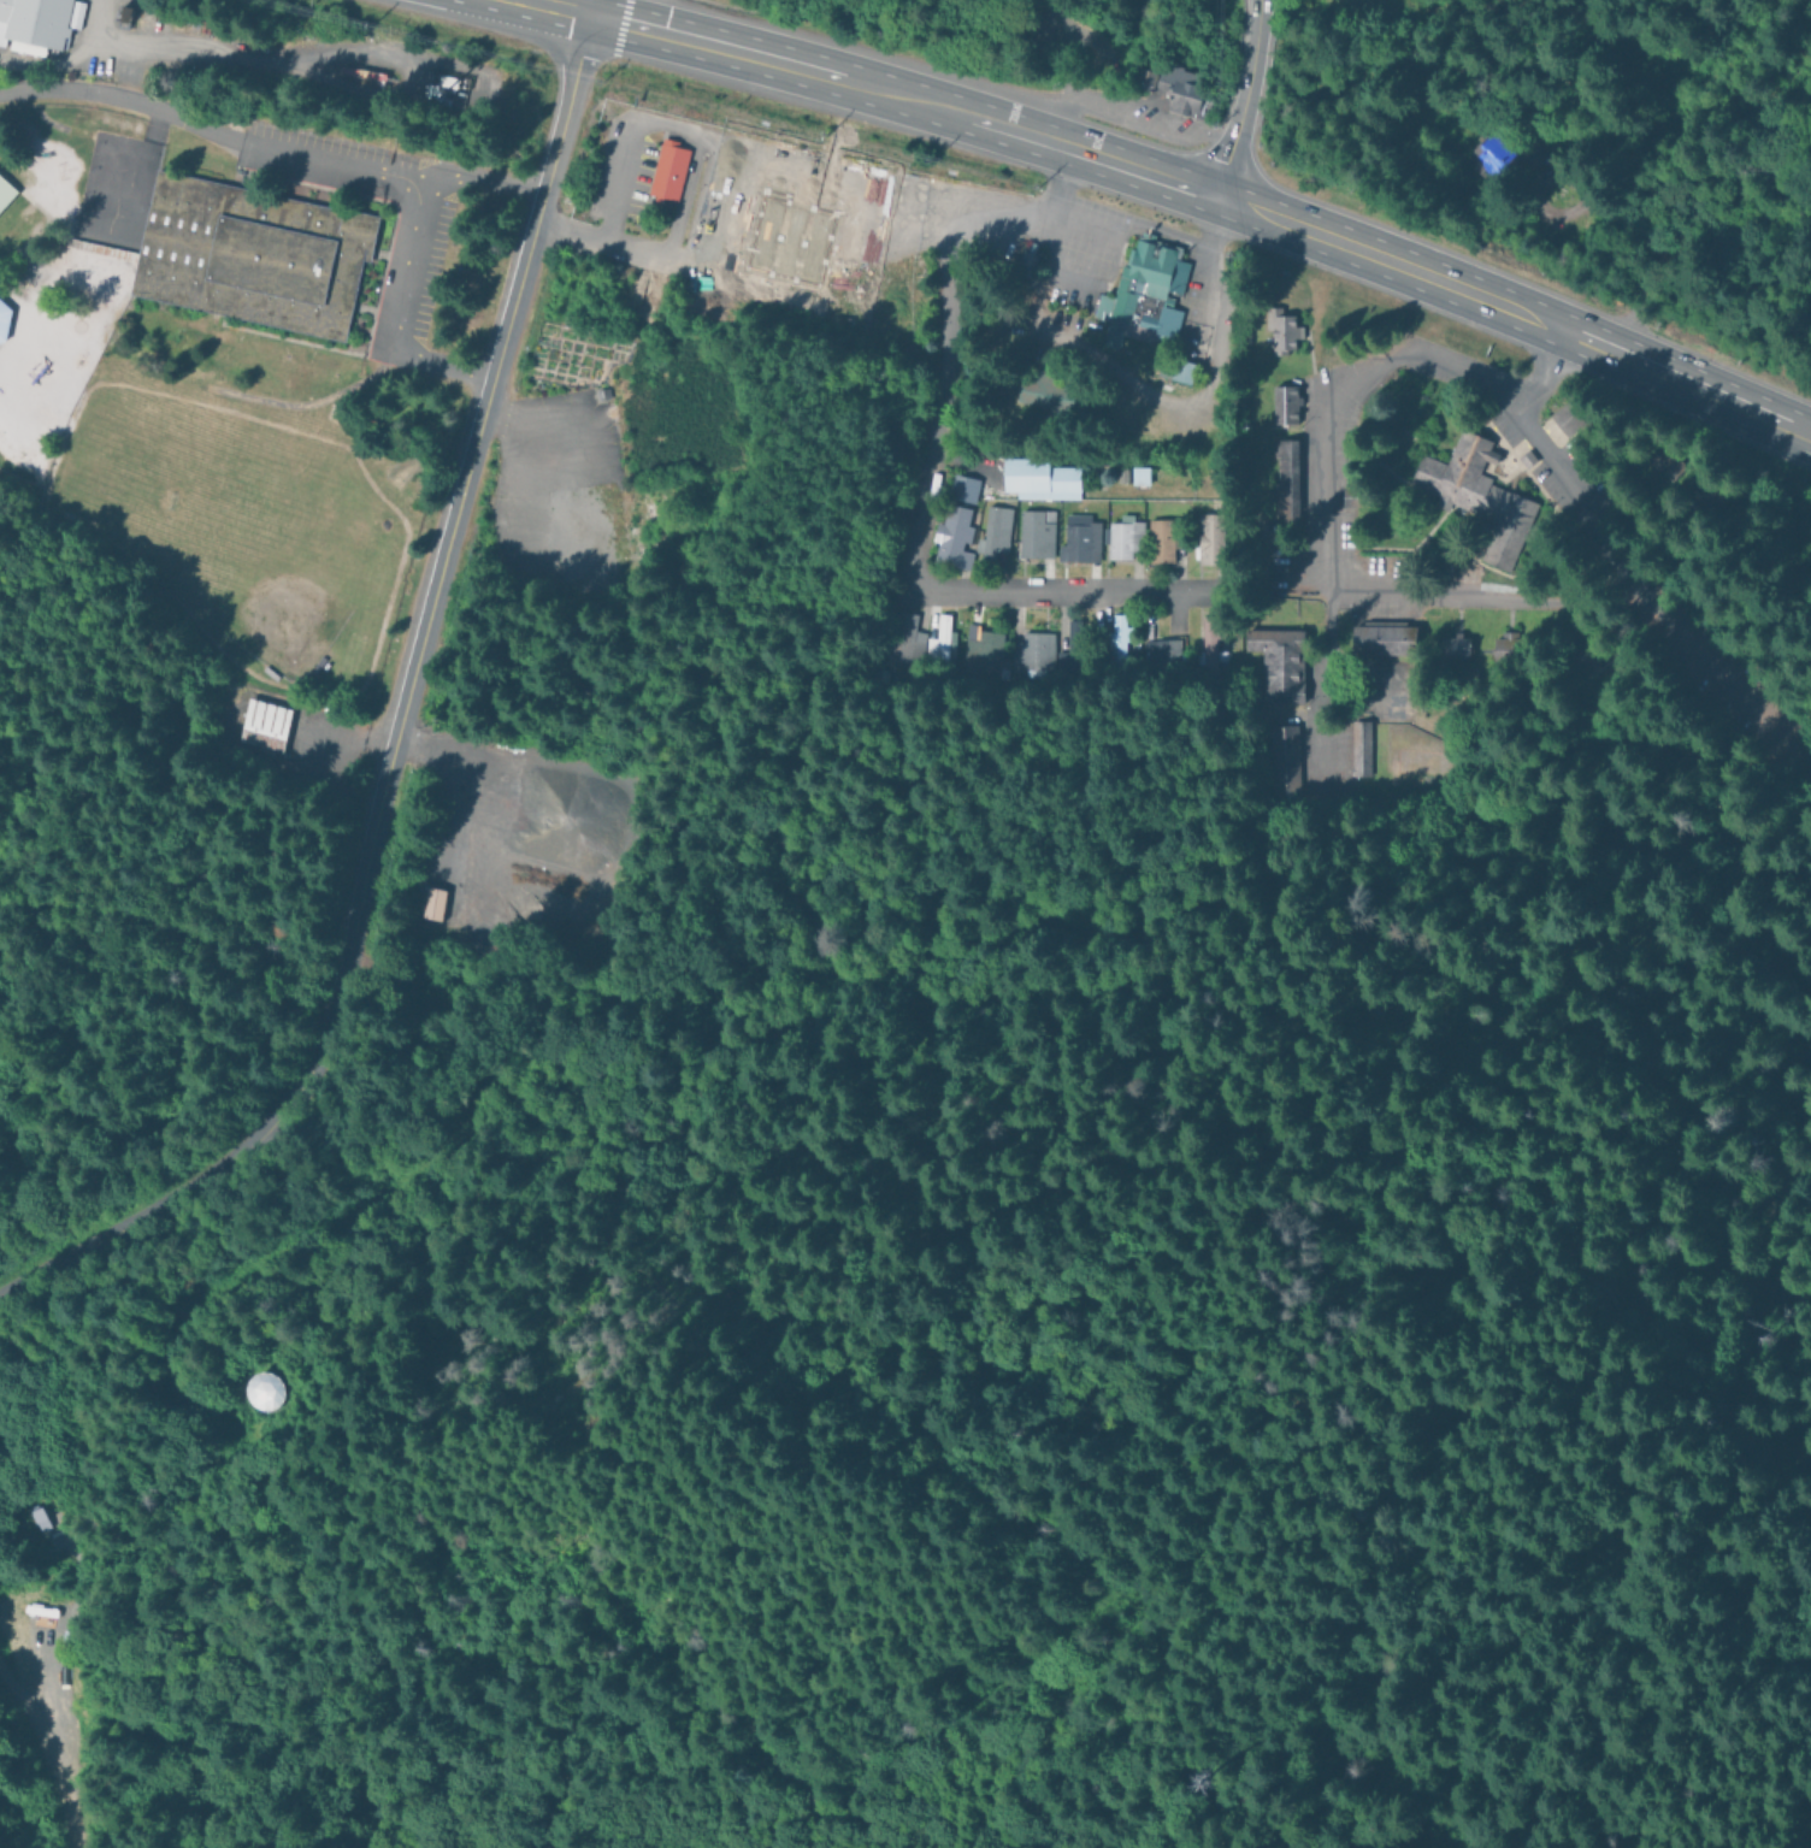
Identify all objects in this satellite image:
road: (648, 13)
road: (1249, 16)
building: (35, 22)
road: (635, 23)
road: (67, 54)
road: (1246, 64)
road: (314, 66)
road: (821, 71)
road: (1061, 94)
road: (666, 122)
road: (211, 130)
road: (1072, 144)
road: (1239, 146)
building: (1494, 154)
road: (780, 160)
building: (668, 167)
road: (483, 176)
building: (5, 188)
parking lot: (720, 229)
building: (789, 236)
building: (249, 250)
building: (1142, 296)
road: (397, 305)
road: (1523, 311)
building: (4, 321)
building: (1284, 331)
building: (1176, 370)
road: (1129, 378)
building: (1286, 406)
building: (1568, 419)
road: (509, 435)
road: (584, 449)
road: (1326, 451)
park: (190, 468)
building: (1140, 477)
building: (1438, 477)
building: (1042, 479)
building: (1286, 482)
building: (963, 489)
road: (921, 518)
building: (995, 532)
building: (1037, 533)
building: (952, 538)
building: (1125, 538)
building: (589, 539)
building: (1080, 539)
building: (1211, 539)
building: (1161, 542)
road: (1600, 590)
park: (287, 595)
building: (1210, 632)
building: (1117, 636)
building: (902, 638)
building: (1384, 638)
building: (939, 640)
building: (1457, 645)
building: (1506, 646)
building: (1069, 650)
building: (1007, 653)
building: (1161, 653)
road: (1709, 663)
building: (1280, 665)
parking lot: (1734, 701)
road: (391, 714)
building: (262, 725)
road: (1809, 743)
building: (1361, 748)
road: (1664, 845)
building: (429, 903)
building: (262, 1391)
road: (1535, 1459)
building: (25, 1517)

